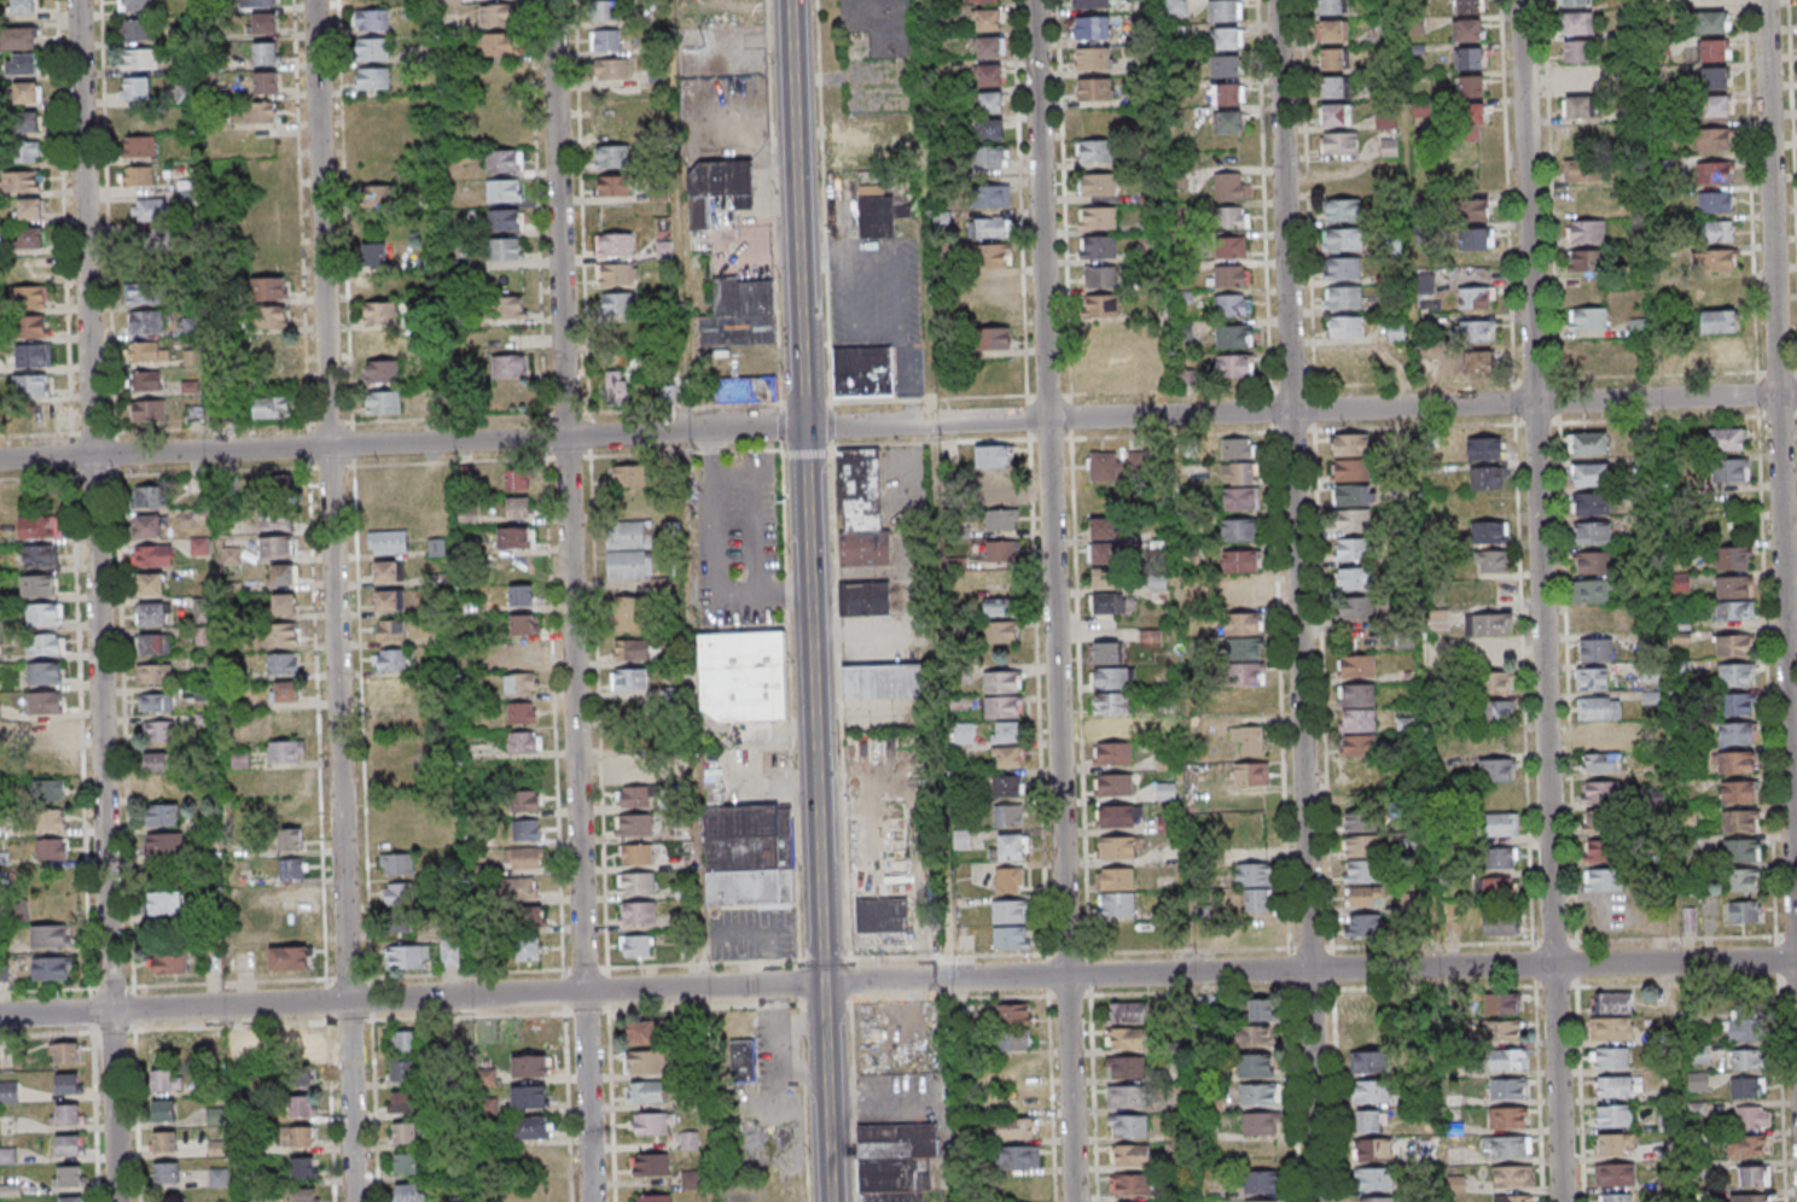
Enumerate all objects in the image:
building: (366, 0)
building: (983, 0)
building: (1712, 1)
building: (262, 4)
building: (1091, 4)
building: (1574, 4)
building: (136, 5)
building: (1465, 6)
building: (23, 7)
building: (1176, 7)
building: (1330, 7)
building: (1225, 10)
building: (604, 12)
building: (498, 14)
building: (988, 19)
building: (371, 21)
building: (1714, 22)
building: (263, 25)
building: (880, 25)
building: (1576, 25)
building: (1092, 27)
building: (138, 30)
building: (1466, 30)
building: (1332, 31)
building: (1226, 37)
building: (18, 40)
building: (605, 41)
building: (500, 43)
building: (988, 46)
building: (372, 49)
building: (1714, 49)
building: (1576, 52)
building: (266, 54)
building: (1093, 58)
building: (1332, 58)
building: (1469, 58)
building: (140, 60)
building: (215, 60)
building: (22, 64)
building: (1225, 66)
building: (611, 70)
building: (987, 75)
building: (372, 77)
building: (1714, 77)
building: (1576, 78)
building: (266, 83)
building: (1333, 86)
building: (1470, 87)
building: (1094, 88)
building: (136, 89)
building: (27, 92)
building: (184, 93)
building: (1227, 94)
building: (990, 101)
building: (1716, 105)
building: (1580, 107)
building: (260, 113)
building: (1336, 113)
building: (1385, 119)
building: (1227, 121)
building: (1470, 121)
building: (28, 122)
building: (611, 128)
building: (990, 129)
building: (1581, 138)
building: (1712, 138)
building: (1341, 142)
building: (139, 146)
building: (28, 151)
building: (1094, 151)
building: (611, 157)
building: (990, 157)
building: (504, 161)
building: (854, 161)
building: (1582, 171)
building: (1714, 171)
building: (139, 176)
building: (21, 181)
building: (1099, 183)
building: (613, 185)
building: (1231, 185)
building: (504, 189)
building: (377, 196)
building: (991, 196)
building: (1715, 202)
building: (29, 208)
building: (1472, 208)
building: (149, 209)
building: (1343, 211)
building: (877, 216)
building: (1234, 216)
building: (1098, 218)
building: (506, 220)
road: (324, 223)
road: (91, 227)
building: (991, 227)
building: (1717, 232)
building: (1586, 233)
building: (29, 238)
building: (1475, 238)
building: (1342, 240)
building: (615, 244)
building: (1098, 246)
building: (1229, 247)
building: (506, 249)
building: (664, 250)
building: (374, 255)
building: (728, 255)
building: (994, 256)
building: (1588, 261)
building: (1719, 261)
building: (1343, 268)
building: (617, 274)
building: (1100, 276)
building: (1229, 276)
building: (374, 284)
building: (993, 285)
building: (269, 287)
building: (1719, 290)
building: (143, 293)
building: (28, 297)
building: (1344, 297)
building: (1476, 297)
building: (617, 303)
building: (1099, 305)
building: (1231, 305)
building: (508, 307)
building: (1001, 309)
building: (380, 311)
building: (269, 316)
building: (1588, 319)
building: (145, 321)
building: (1719, 321)
building: (34, 326)
building: (1345, 326)
building: (1477, 331)
building: (1234, 337)
building: (995, 339)
building: (379, 342)
building: (1720, 350)
building: (146, 351)
building: (31, 355)
building: (1478, 362)
building: (510, 366)
building: (1233, 367)
building: (383, 370)
building: (862, 373)
building: (1188, 378)
building: (145, 381)
building: (31, 386)
building: (615, 389)
building: (745, 390)
building: (667, 396)
building: (384, 402)
road: (1784, 404)
building: (272, 408)
building: (149, 412)
building: (194, 414)
road: (1062, 418)
building: (1727, 438)
building: (1588, 444)
building: (1484, 448)
road: (163, 451)
building: (993, 456)
building: (1351, 457)
building: (1239, 460)
building: (1106, 468)
building: (1732, 469)
building: (628, 475)
building: (1590, 475)
building: (1487, 477)
building: (517, 478)
building: (998, 482)
road: (940, 489)
road: (806, 490)
building: (150, 496)
building: (1357, 496)
building: (1241, 498)
building: (1590, 504)
building: (518, 507)
building: (862, 508)
building: (275, 520)
building: (1001, 520)
building: (147, 526)
building: (37, 527)
building: (1103, 530)
building: (1238, 530)
building: (1490, 532)
building: (1593, 532)
building: (628, 535)
building: (517, 537)
building: (1361, 538)
building: (386, 542)
building: (277, 547)
building: (1001, 553)
building: (1105, 554)
building: (40, 555)
building: (152, 555)
building: (1732, 556)
building: (1239, 560)
building: (1493, 560)
building: (1594, 561)
building: (629, 564)
road: (711, 564)
building: (386, 572)
building: (281, 576)
building: (1107, 578)
building: (1361, 580)
building: (150, 584)
building: (1733, 585)
building: (42, 587)
building: (1594, 590)
building: (1241, 591)
building: (522, 595)
building: (865, 597)
road: (696, 600)
road: (792, 600)
road: (1059, 600)
road: (1304, 600)
road: (1545, 600)
road: (572, 601)
building: (284, 603)
building: (1107, 603)
building: (395, 605)
building: (999, 607)
building: (1733, 609)
building: (150, 613)
building: (629, 614)
building: (46, 618)
building: (1361, 619)
building: (1438, 620)
building: (1593, 620)
building: (522, 624)
building: (1241, 624)
building: (1488, 624)
building: (396, 632)
building: (1006, 634)
building: (280, 635)
building: (1150, 638)
building: (153, 644)
building: (48, 646)
building: (1734, 646)
building: (1246, 648)
building: (630, 650)
building: (1595, 650)
building: (1496, 652)
building: (523, 653)
building: (1104, 653)
building: (397, 663)
building: (281, 664)
building: (1356, 666)
building: (153, 673)
building: (1248, 673)
building: (1737, 673)
building: (47, 676)
building: (1112, 677)
building: (1590, 678)
building: (629, 681)
building: (748, 681)
building: (888, 681)
building: (522, 682)
building: (1002, 682)
building: (1499, 682)
building: (389, 687)
building: (285, 693)
building: (1356, 695)
building: (45, 701)
building: (158, 701)
building: (1111, 702)
building: (1740, 702)
building: (1002, 707)
building: (1598, 707)
building: (1498, 711)
building: (522, 712)
building: (390, 717)
building: (1357, 720)
building: (285, 723)
road: (341, 724)
building: (1112, 728)
building: (159, 730)
building: (47, 731)
road: (107, 733)
building: (1006, 733)
building: (1599, 733)
building: (1735, 733)
building: (965, 734)
building: (1249, 739)
building: (525, 741)
building: (1359, 747)
building: (394, 748)
building: (1112, 754)
building: (290, 755)
building: (1007, 757)
building: (50, 760)
building: (155, 762)
building: (1599, 763)
building: (1735, 763)
building: (632, 768)
building: (1496, 769)
building: (1251, 774)
building: (275, 780)
building: (1115, 784)
building: (1007, 786)
building: (48, 788)
building: (1738, 790)
building: (1600, 794)
building: (635, 797)
building: (528, 801)
building: (1008, 815)
building: (1117, 816)
building: (51, 819)
building: (1599, 819)
building: (1740, 819)
building: (168, 821)
building: (1357, 822)
building: (1501, 823)
building: (635, 824)
building: (527, 830)
building: (290, 840)
building: (1690, 845)
building: (1011, 847)
building: (1120, 847)
building: (1361, 847)
building: (52, 848)
building: (167, 848)
building: (1741, 850)
building: (1600, 851)
building: (636, 853)
building: (748, 853)
building: (1500, 858)
building: (529, 862)
building: (402, 867)
building: (291, 869)
building: (1362, 873)
building: (1010, 879)
building: (1116, 879)
building: (1740, 880)
building: (1603, 881)
building: (636, 883)
building: (1255, 887)
building: (1496, 887)
building: (523, 888)
building: (399, 894)
building: (290, 897)
building: (1363, 898)
building: (165, 903)
building: (1117, 904)
building: (1011, 910)
building: (1745, 911)
building: (638, 912)
building: (529, 917)
building: (1688, 918)
building: (880, 921)
building: (397, 924)
building: (293, 926)
building: (1499, 926)
building: (1362, 927)
building: (51, 935)
building: (1012, 936)
building: (636, 945)
building: (529, 950)
building: (449, 953)
building: (289, 957)
building: (406, 958)
building: (169, 962)
building: (51, 968)
road: (1075, 975)
building: (1610, 1002)
building: (1501, 1003)
building: (1367, 1006)
road: (176, 1008)
building: (1260, 1010)
building: (1011, 1014)
building: (1127, 1014)
building: (1611, 1027)
building: (1504, 1029)
building: (1745, 1029)
building: (641, 1032)
building: (1252, 1037)
building: (1012, 1039)
building: (1126, 1039)
building: (215, 1040)
building: (406, 1041)
building: (163, 1049)
building: (66, 1052)
building: (1700, 1052)
building: (1609, 1057)
building: (298, 1058)
building: (1507, 1058)
building: (1746, 1058)
building: (645, 1061)
building: (743, 1061)
building: (1368, 1061)
building: (529, 1066)
building: (1256, 1066)
building: (1020, 1068)
building: (1126, 1068)
building: (403, 1070)
building: (485, 1076)
building: (165, 1080)
building: (1698, 1081)
building: (66, 1083)
building: (1612, 1086)
building: (1747, 1087)
building: (1507, 1089)
road: (949, 1091)
building: (1369, 1091)
building: (8, 1092)
building: (645, 1092)
road: (826, 1092)
building: (1258, 1096)
building: (529, 1097)
building: (1126, 1098)
road: (357, 1102)
building: (402, 1102)
road: (118, 1107)
building: (301, 1107)
building: (162, 1110)
building: (65, 1114)
building: (1615, 1115)
building: (214, 1116)
building: (1508, 1116)
building: (1752, 1116)
building: (1369, 1121)
building: (652, 1124)
building: (1258, 1125)
building: (530, 1127)
building: (1129, 1127)
building: (1018, 1128)
building: (405, 1133)
building: (297, 1137)
building: (690, 1140)
building: (164, 1142)
building: (68, 1144)
building: (1612, 1144)
building: (1746, 1145)
building: (1506, 1146)
building: (1374, 1150)
building: (1130, 1155)
building: (1019, 1157)
building: (896, 1161)
building: (406, 1163)
building: (650, 1163)
building: (303, 1167)
building: (167, 1172)
building: (1613, 1174)
building: (68, 1175)
building: (1512, 1175)
building: (1752, 1175)
building: (219, 1178)
building: (1374, 1179)
building: (1262, 1181)
building: (1130, 1184)
building: (407, 1192)
building: (303, 1195)
building: (652, 1197)
building: (1512, 1197)
building: (1615, 1197)
building: (1750, 1197)
building: (68, 1200)
building: (1374, 1200)
building: (1263, 1201)

